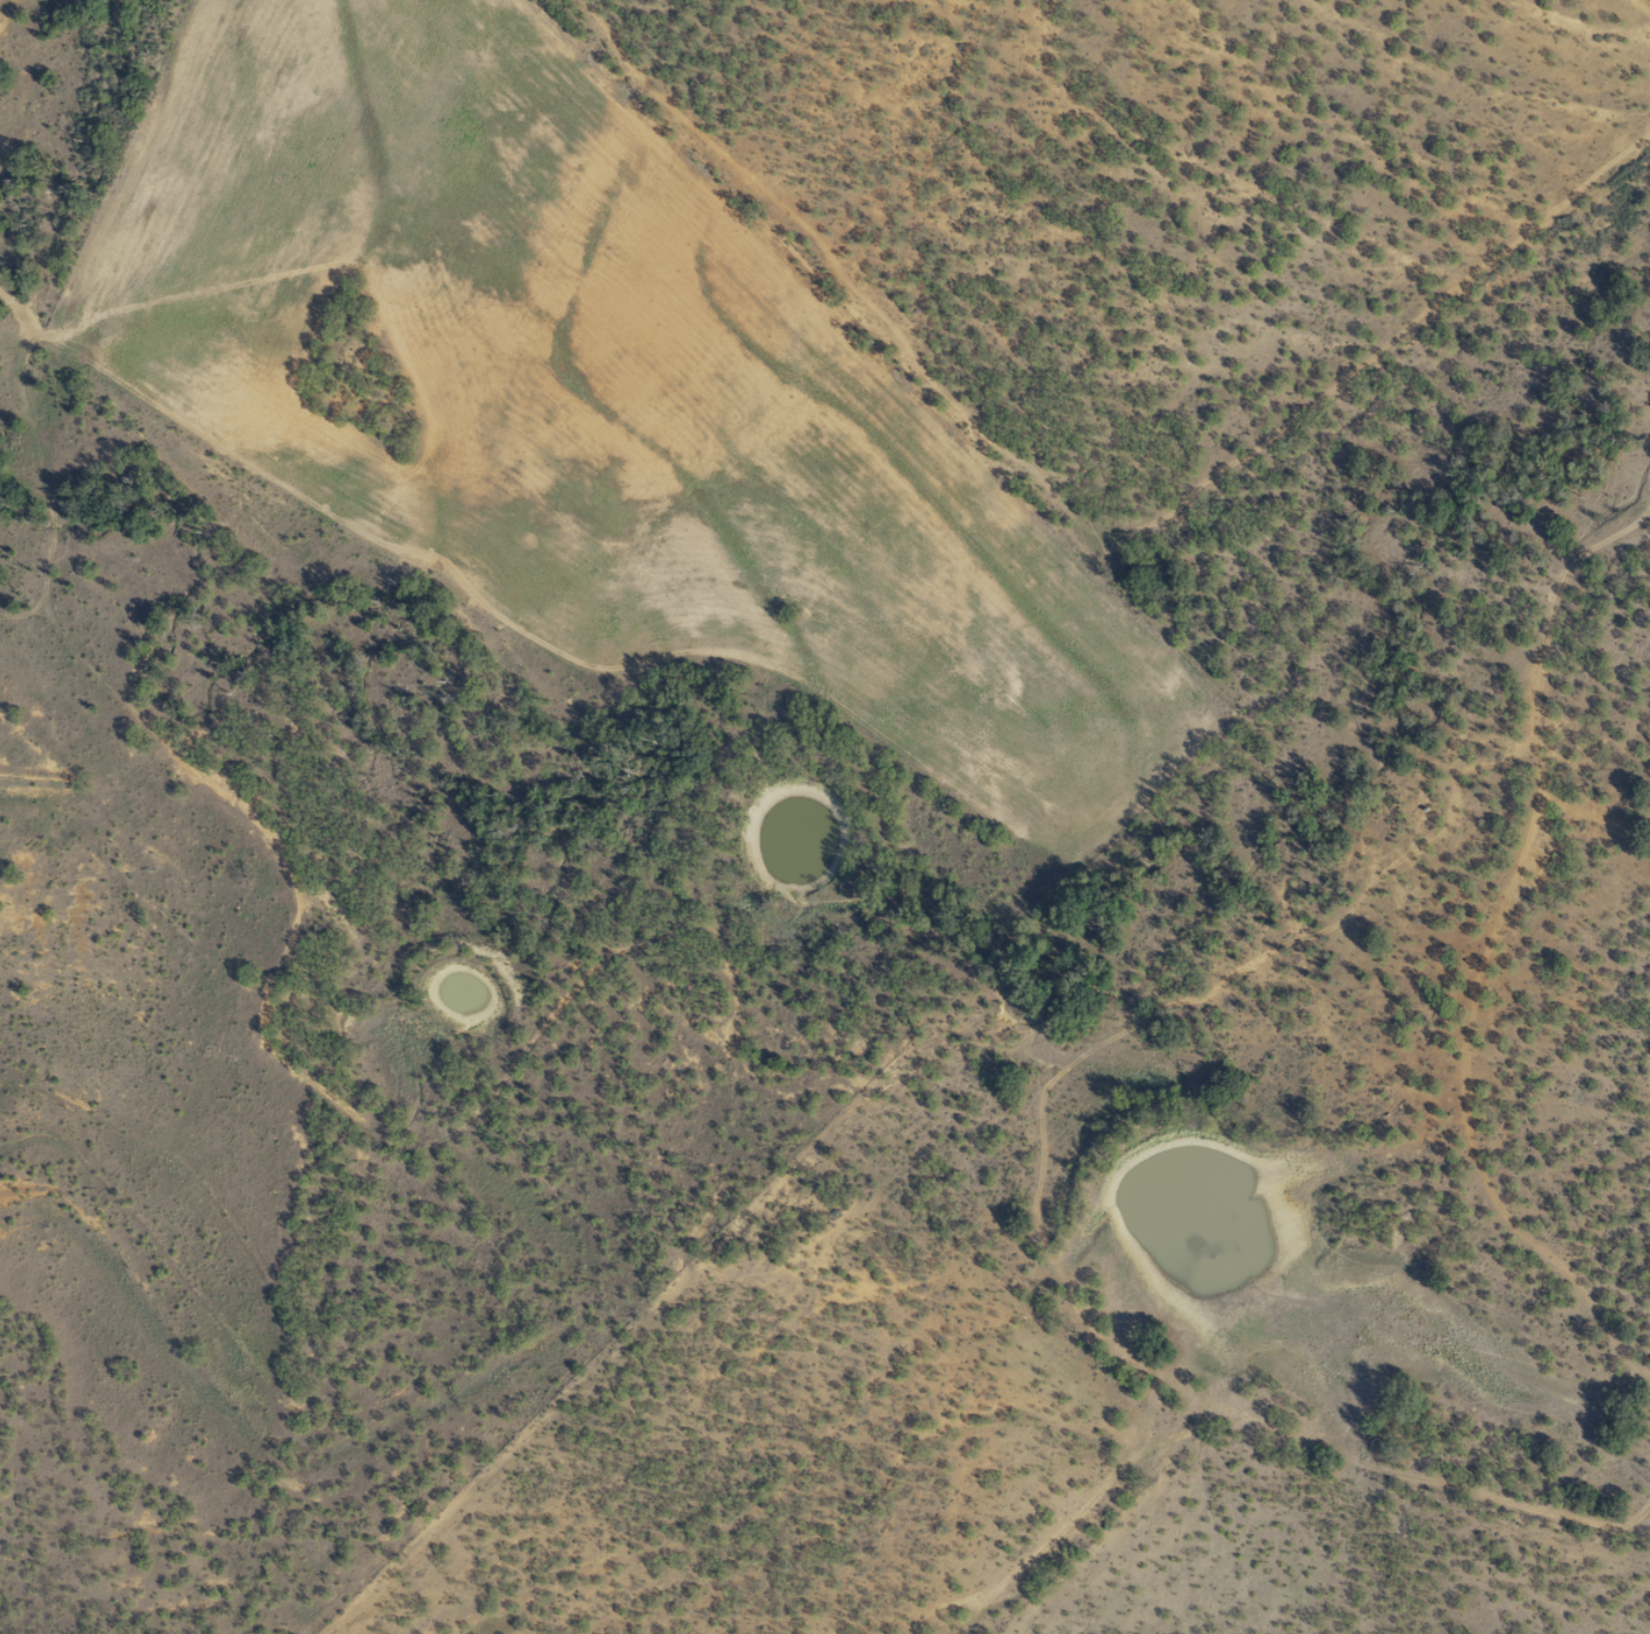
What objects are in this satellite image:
road: (59, 633)

